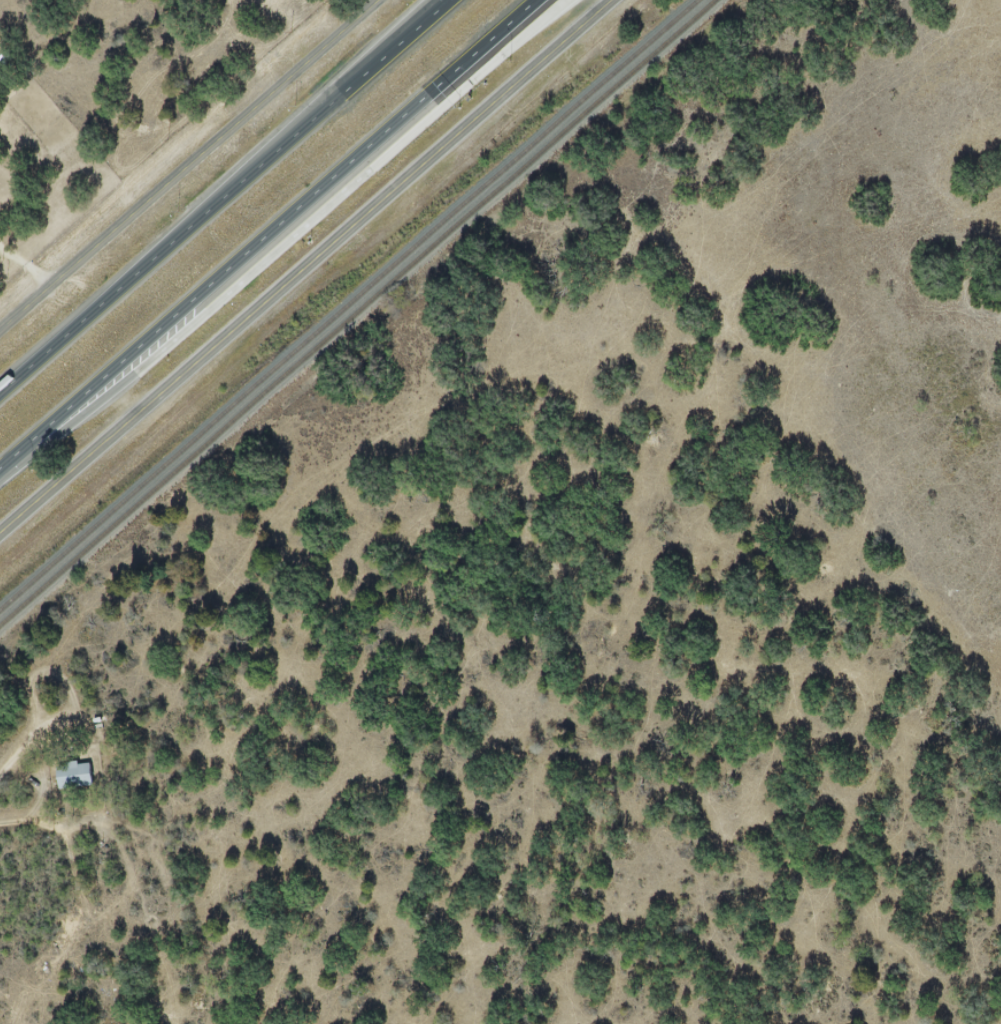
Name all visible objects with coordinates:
road: (190, 166)
road: (223, 196)
road: (267, 233)
road: (305, 265)
railway: (346, 301)
railway: (358, 312)
building: (73, 775)
road: (77, 887)
building: (67, 923)

